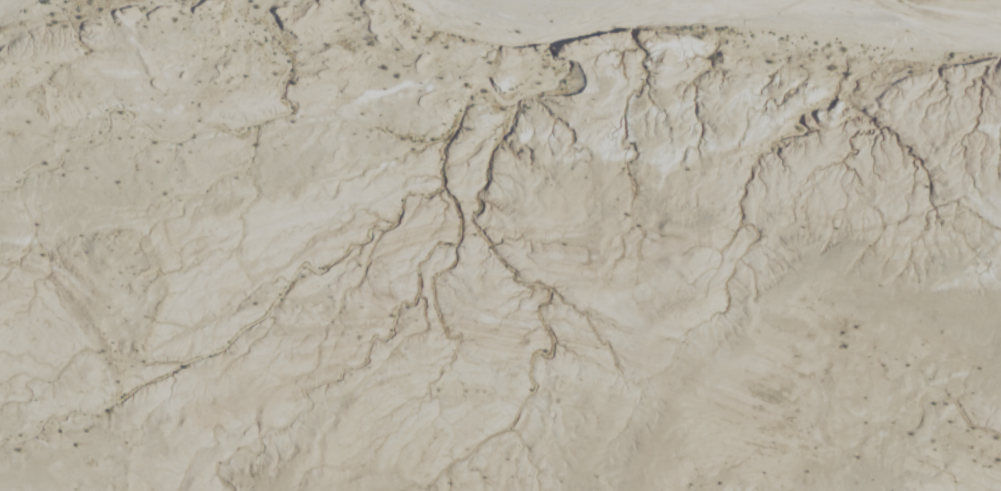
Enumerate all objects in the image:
road: (1, 1)
road: (717, 8)

